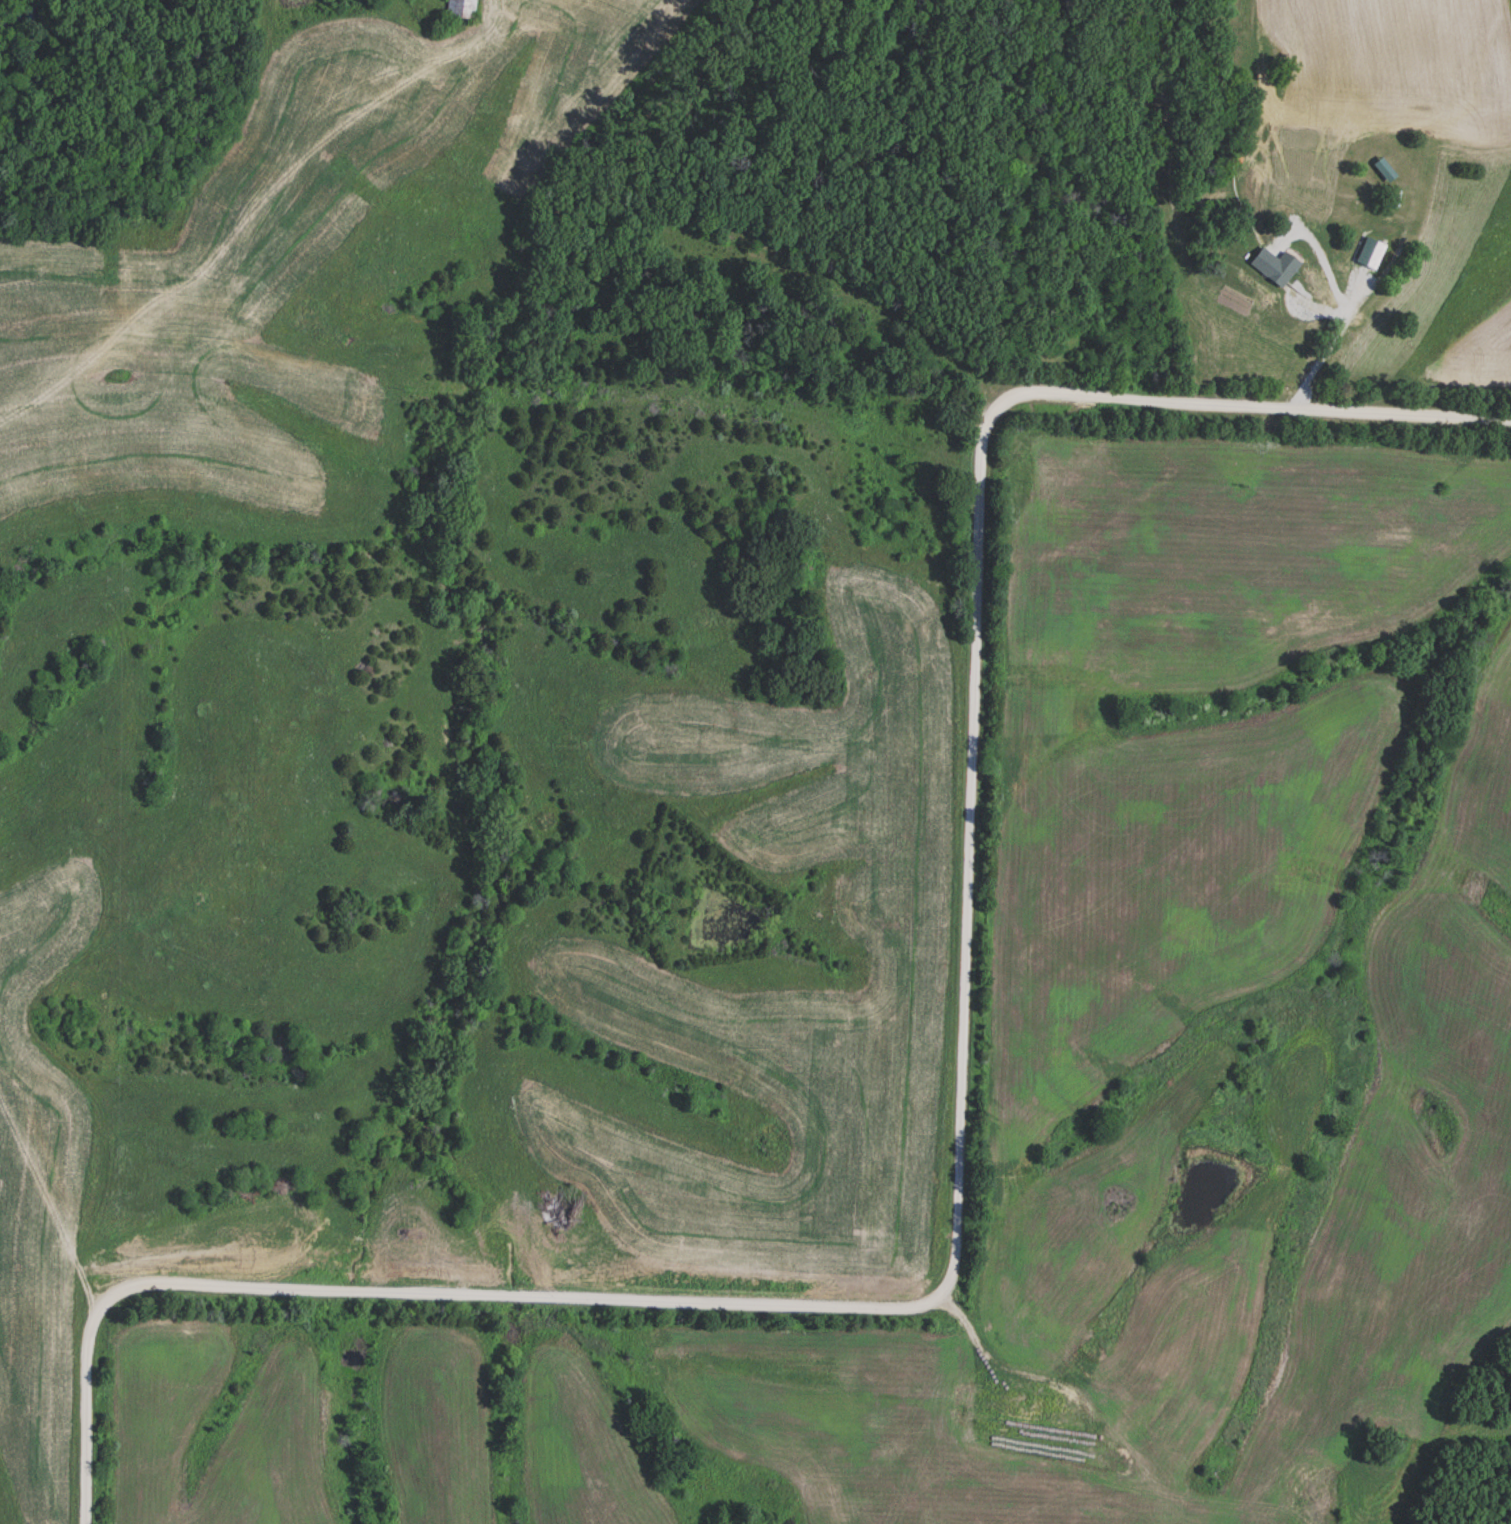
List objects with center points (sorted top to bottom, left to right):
building: (463, 8)
building: (1381, 237)
road: (960, 1127)
building: (1310, 1490)

